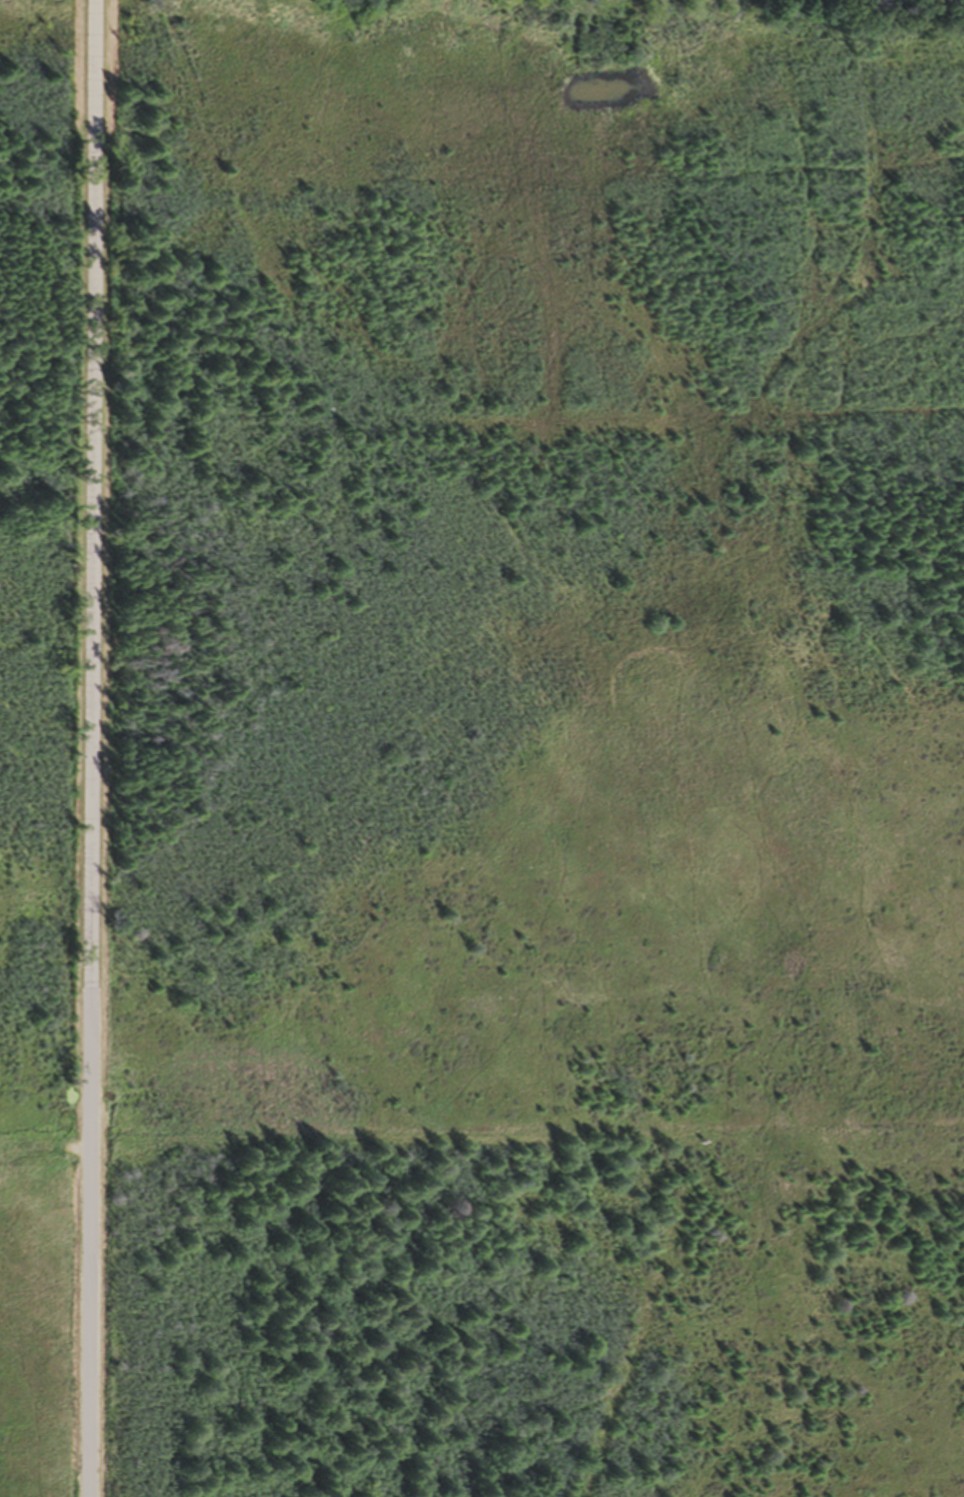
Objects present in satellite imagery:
road: (94, 748)

